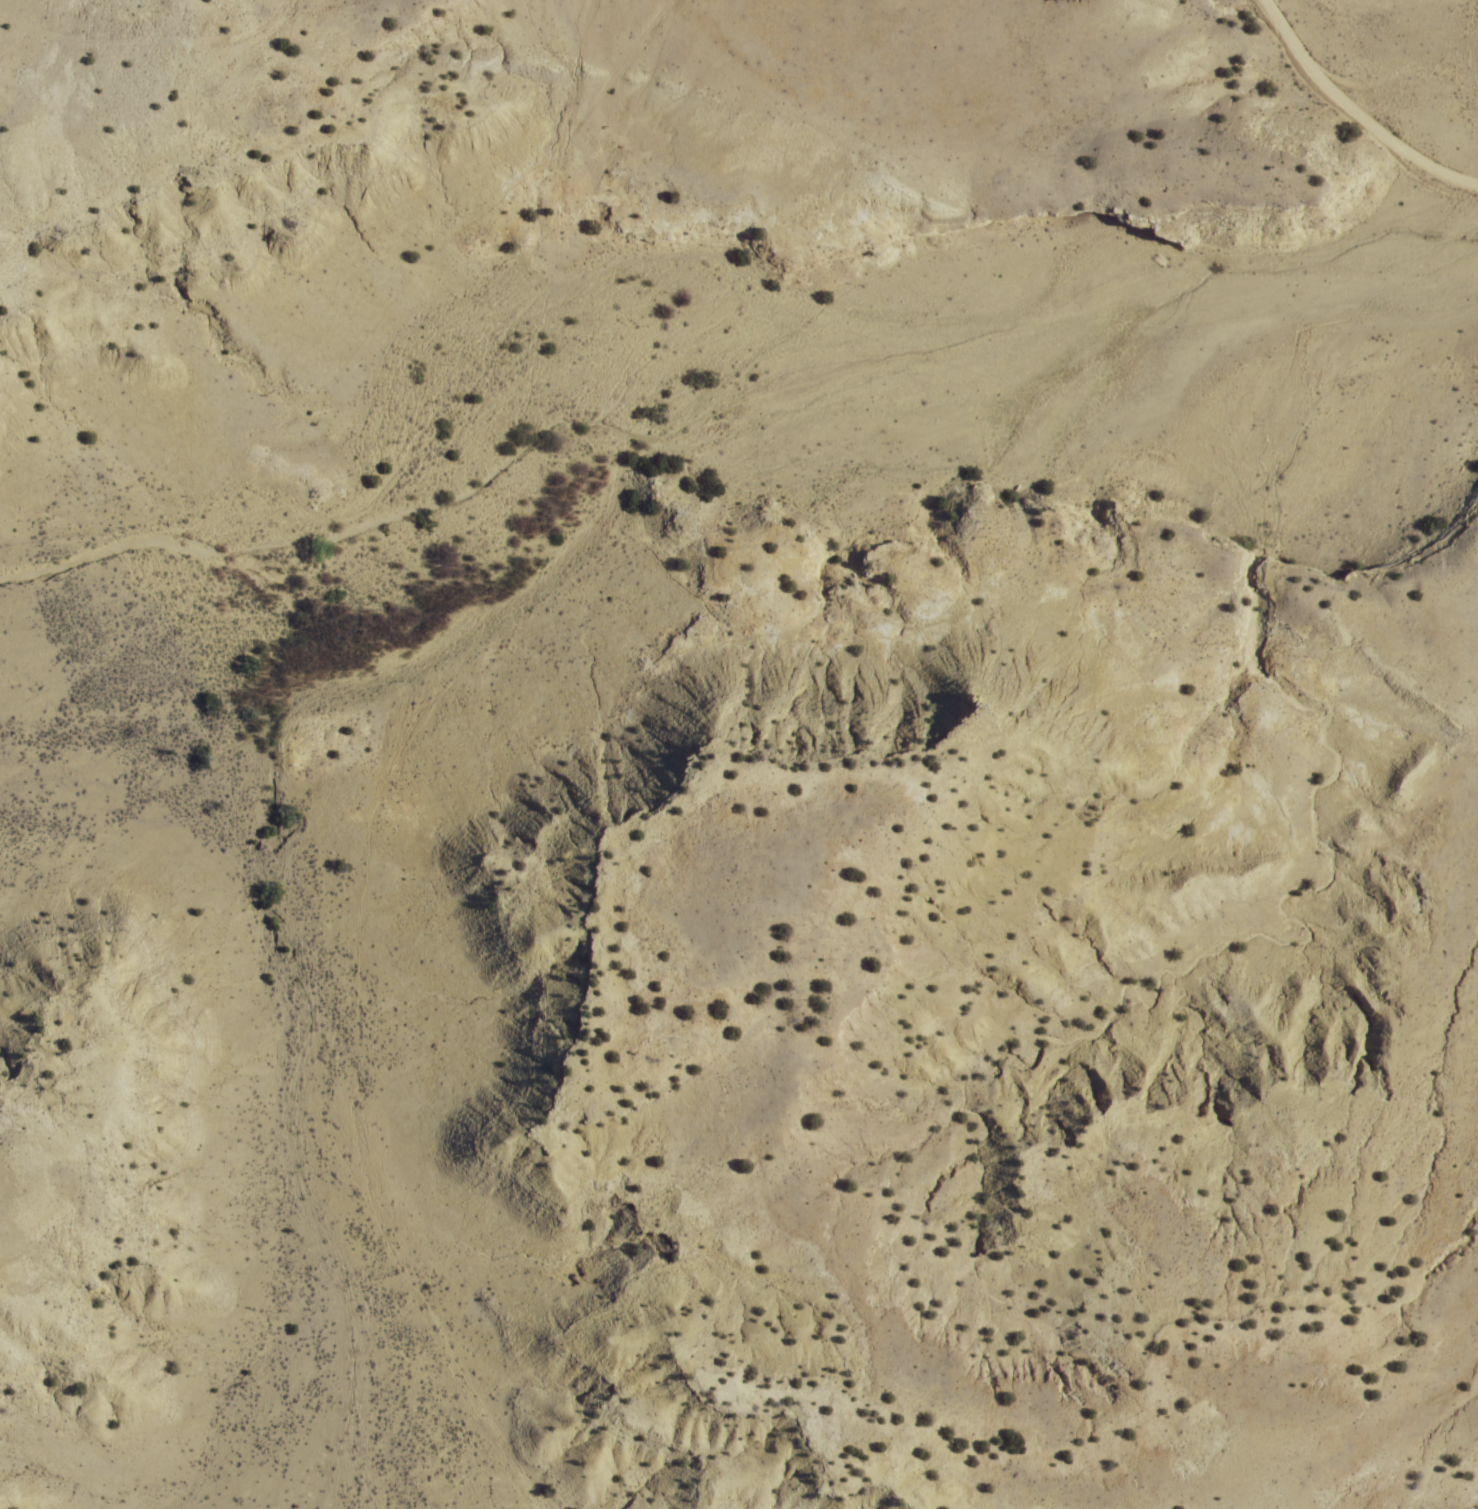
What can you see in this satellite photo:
road: (1356, 109)

